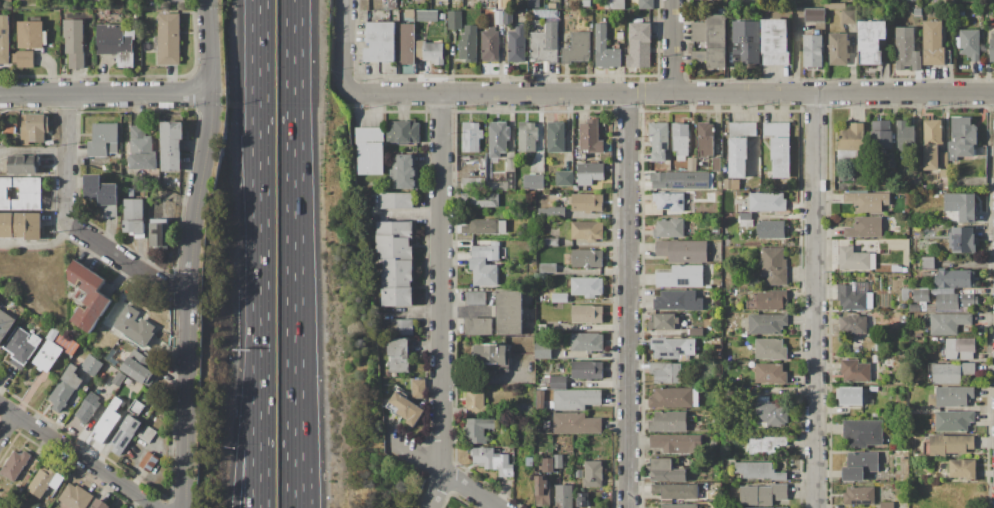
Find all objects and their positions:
building: (566, 0)
building: (421, 1)
building: (534, 3)
building: (586, 3)
building: (391, 4)
building: (616, 4)
building: (645, 4)
building: (835, 5)
building: (552, 6)
building: (519, 12)
building: (960, 12)
building: (409, 14)
building: (544, 14)
building: (426, 15)
building: (814, 15)
building: (441, 16)
building: (498, 17)
building: (508, 17)
building: (848, 17)
building: (454, 20)
building: (590, 25)
building: (698, 31)
building: (30, 35)
building: (619, 35)
building: (774, 35)
building: (5, 39)
building: (169, 39)
building: (380, 41)
building: (716, 41)
building: (747, 41)
building: (74, 42)
building: (871, 42)
building: (934, 42)
building: (116, 43)
building: (406, 43)
building: (517, 43)
building: (969, 43)
building: (469, 44)
road: (340, 45)
building: (490, 45)
building: (544, 45)
building: (639, 45)
road: (673, 46)
building: (992, 46)
building: (604, 48)
building: (577, 49)
building: (838, 49)
building: (813, 50)
building: (906, 50)
building: (431, 51)
building: (699, 57)
building: (23, 58)
road: (670, 93)
road: (105, 94)
building: (34, 127)
building: (10, 128)
building: (964, 131)
building: (403, 132)
building: (369, 134)
building: (881, 134)
building: (593, 135)
building: (905, 135)
building: (471, 136)
building: (527, 137)
building: (556, 137)
building: (851, 137)
building: (705, 138)
building: (680, 139)
building: (103, 140)
building: (498, 140)
building: (659, 140)
building: (931, 144)
building: (171, 145)
building: (739, 147)
building: (778, 147)
building: (141, 149)
road: (33, 150)
building: (965, 151)
road: (293, 153)
road: (65, 158)
building: (370, 158)
building: (943, 159)
building: (895, 160)
road: (258, 161)
building: (511, 164)
building: (691, 164)
building: (716, 164)
building: (23, 170)
building: (402, 171)
building: (589, 173)
building: (944, 173)
building: (470, 174)
building: (563, 178)
building: (680, 180)
building: (917, 180)
building: (533, 182)
building: (474, 183)
building: (729, 184)
building: (500, 186)
building: (575, 189)
building: (129, 192)
building: (13, 193)
building: (21, 193)
building: (100, 194)
building: (394, 200)
building: (485, 200)
building: (668, 201)
building: (586, 202)
building: (767, 202)
building: (868, 202)
building: (961, 205)
building: (529, 209)
building: (552, 213)
building: (134, 216)
building: (745, 219)
building: (21, 225)
building: (485, 226)
building: (864, 227)
building: (670, 228)
building: (771, 229)
building: (586, 230)
building: (159, 233)
building: (962, 239)
building: (549, 241)
building: (683, 251)
road: (191, 253)
building: (512, 256)
building: (586, 258)
building: (856, 259)
building: (395, 261)
building: (927, 263)
road: (127, 264)
building: (484, 264)
building: (774, 266)
building: (547, 267)
building: (899, 269)
building: (681, 276)
building: (956, 278)
road: (440, 281)
building: (587, 286)
building: (708, 286)
building: (905, 293)
building: (88, 295)
building: (922, 295)
building: (559, 297)
building: (475, 298)
building: (852, 298)
building: (607, 299)
road: (626, 300)
building: (680, 300)
building: (772, 300)
road: (814, 301)
building: (955, 301)
building: (922, 306)
building: (931, 309)
building: (531, 310)
building: (510, 313)
building: (587, 314)
building: (663, 321)
building: (947, 323)
building: (5, 324)
building: (767, 324)
building: (853, 324)
building: (135, 326)
building: (479, 326)
building: (402, 327)
building: (542, 327)
building: (695, 331)
building: (744, 335)
building: (718, 340)
building: (586, 341)
building: (22, 344)
building: (878, 346)
building: (71, 347)
building: (668, 348)
building: (960, 348)
building: (770, 349)
building: (543, 350)
building: (490, 354)
building: (47, 355)
building: (398, 355)
building: (874, 359)
building: (91, 365)
building: (143, 366)
building: (587, 369)
building: (666, 372)
building: (856, 372)
building: (771, 373)
building: (951, 373)
building: (118, 378)
building: (558, 382)
building: (64, 388)
building: (418, 389)
building: (850, 395)
building: (954, 396)
building: (674, 398)
building: (575, 399)
building: (475, 401)
building: (540, 401)
building: (87, 407)
road: (293, 407)
road: (304, 407)
building: (136, 408)
building: (406, 408)
building: (771, 413)
road: (243, 414)
road: (259, 415)
building: (874, 415)
building: (107, 421)
building: (954, 421)
building: (669, 422)
building: (576, 423)
road: (8, 427)
building: (479, 428)
building: (862, 432)
building: (146, 433)
building: (124, 434)
building: (677, 443)
building: (766, 444)
building: (951, 445)
building: (734, 448)
road: (413, 455)
road: (82, 456)
building: (493, 461)
building: (559, 461)
building: (148, 462)
building: (529, 462)
building: (15, 465)
building: (547, 465)
building: (860, 465)
building: (963, 468)
building: (666, 471)
building: (759, 472)
building: (593, 474)
building: (44, 481)
road: (467, 488)
road: (436, 489)
building: (542, 491)
building: (676, 491)
building: (761, 495)
building: (859, 495)
building: (564, 496)
building: (75, 497)
building: (581, 500)
building: (99, 504)
building: (889, 505)
building: (680, 506)
building: (0, 507)
building: (37, 507)
building: (744, 507)

